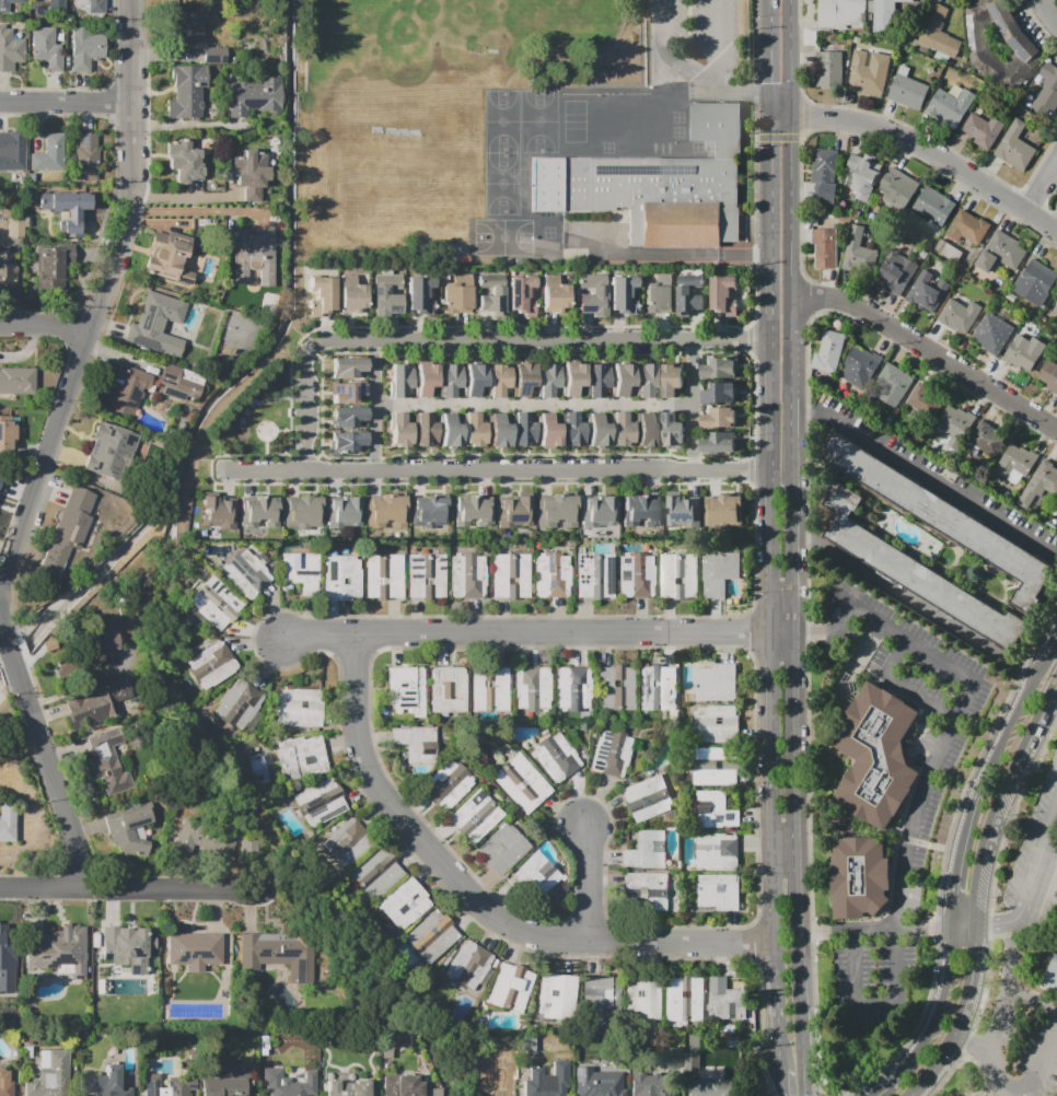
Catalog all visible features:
building: (56, 3)
building: (95, 7)
building: (3, 8)
road: (1047, 13)
building: (840, 14)
building: (882, 16)
building: (189, 28)
park: (572, 31)
building: (937, 31)
building: (1011, 32)
park: (403, 38)
parking lot: (699, 38)
building: (986, 47)
building: (8, 48)
building: (45, 48)
building: (85, 48)
road: (770, 48)
building: (214, 54)
road: (790, 58)
building: (827, 68)
building: (868, 73)
traffic signals: (770, 82)
road: (702, 86)
road: (96, 88)
building: (1047, 90)
building: (907, 91)
building: (186, 92)
road: (740, 95)
road: (68, 97)
building: (253, 97)
road: (769, 106)
road: (116, 107)
building: (945, 108)
traffic signals: (809, 116)
road: (780, 117)
road: (755, 123)
road: (187, 124)
building: (984, 130)
traffic signals: (791, 142)
building: (1015, 148)
road: (932, 151)
building: (13, 152)
building: (48, 153)
building: (86, 158)
road: (116, 160)
building: (188, 161)
building: (823, 164)
building: (249, 174)
building: (860, 174)
building: (898, 185)
road: (1042, 185)
building: (654, 186)
road: (185, 196)
building: (933, 205)
road: (791, 207)
building: (65, 209)
building: (14, 228)
road: (769, 228)
building: (966, 228)
building: (823, 248)
building: (948, 250)
building: (999, 252)
building: (856, 253)
building: (166, 257)
building: (253, 257)
building: (53, 265)
building: (7, 270)
building: (891, 277)
building: (1034, 282)
building: (417, 290)
building: (619, 290)
building: (927, 290)
building: (322, 292)
building: (385, 292)
building: (520, 292)
building: (722, 292)
building: (489, 293)
building: (658, 293)
road: (103, 295)
building: (591, 295)
building: (352, 296)
building: (688, 296)
building: (554, 298)
building: (455, 299)
building: (1055, 310)
building: (957, 315)
road: (47, 324)
building: (156, 325)
road: (698, 326)
road: (426, 327)
building: (992, 331)
road: (538, 339)
road: (697, 351)
building: (829, 351)
road: (927, 351)
road: (530, 354)
building: (1020, 354)
building: (346, 365)
building: (859, 365)
building: (718, 366)
building: (1047, 375)
building: (522, 376)
building: (620, 376)
building: (399, 377)
building: (423, 377)
building: (473, 377)
building: (547, 377)
building: (571, 377)
building: (449, 378)
building: (498, 378)
building: (646, 378)
building: (670, 378)
building: (894, 378)
building: (16, 380)
building: (595, 380)
building: (181, 381)
building: (127, 388)
building: (345, 390)
building: (719, 393)
building: (925, 398)
road: (294, 403)
road: (692, 404)
road: (374, 406)
road: (533, 406)
road: (304, 410)
building: (346, 415)
building: (718, 417)
building: (955, 419)
building: (670, 428)
building: (399, 429)
building: (422, 429)
building: (620, 429)
building: (644, 429)
building: (473, 430)
building: (571, 430)
road: (289, 431)
building: (449, 431)
building: (496, 431)
building: (521, 431)
building: (546, 431)
building: (596, 432)
building: (4, 435)
building: (987, 439)
building: (350, 441)
building: (719, 442)
road: (284, 447)
road: (268, 448)
building: (109, 451)
road: (473, 455)
road: (256, 456)
building: (1015, 463)
road: (792, 464)
road: (920, 468)
road: (499, 470)
road: (226, 482)
road: (724, 482)
road: (367, 483)
road: (548, 483)
building: (1038, 483)
road: (773, 485)
building: (728, 511)
building: (640, 512)
building: (683, 512)
building: (514, 513)
building: (556, 513)
building: (600, 513)
building: (1056, 513)
building: (386, 514)
building: (471, 514)
building: (258, 515)
building: (302, 515)
building: (429, 515)
building: (344, 516)
building: (212, 517)
building: (943, 517)
building: (67, 528)
building: (299, 570)
building: (245, 572)
building: (916, 572)
building: (636, 574)
building: (717, 574)
building: (426, 575)
building: (466, 575)
building: (509, 575)
building: (551, 575)
building: (593, 575)
building: (678, 575)
building: (383, 576)
building: (341, 578)
road: (915, 602)
building: (213, 604)
road: (783, 632)
building: (108, 633)
road: (527, 633)
road: (833, 633)
building: (49, 644)
road: (857, 656)
building: (209, 665)
building: (62, 668)
building: (716, 681)
road: (903, 685)
road: (82, 686)
building: (615, 686)
building: (448, 688)
building: (571, 688)
building: (659, 688)
building: (405, 689)
building: (488, 689)
building: (532, 689)
building: (97, 703)
building: (237, 704)
building: (300, 706)
building: (715, 724)
road: (1007, 733)
building: (415, 747)
road: (1025, 750)
building: (712, 753)
building: (556, 754)
building: (609, 754)
road: (47, 755)
building: (875, 755)
building: (300, 758)
building: (107, 759)
building: (715, 773)
building: (520, 783)
building: (446, 784)
building: (647, 797)
building: (318, 803)
building: (715, 809)
building: (475, 815)
road: (918, 816)
building: (7, 823)
building: (128, 828)
road: (989, 831)
building: (204, 838)
building: (345, 841)
building: (247, 846)
building: (502, 848)
building: (644, 850)
building: (713, 852)
road: (788, 855)
road: (801, 863)
road: (776, 864)
road: (1036, 867)
building: (373, 871)
building: (528, 876)
building: (857, 876)
road: (950, 881)
road: (590, 884)
road: (45, 886)
building: (648, 887)
road: (977, 888)
road: (176, 889)
building: (718, 890)
road: (476, 901)
parking lot: (1018, 901)
building: (404, 905)
road: (991, 908)
road: (991, 924)
road: (888, 930)
building: (430, 936)
building: (200, 946)
building: (58, 949)
building: (127, 951)
building: (278, 954)
road: (1009, 956)
building: (7, 965)
building: (471, 968)
building: (1052, 971)
road: (973, 973)
building: (510, 988)
building: (557, 996)
road: (1007, 996)
building: (642, 998)
building: (685, 998)
building: (601, 999)
building: (725, 1000)
road: (933, 1022)
building: (393, 1041)
road: (971, 1042)
building: (673, 1057)
road: (940, 1060)
building: (690, 1061)
building: (48, 1075)
building: (546, 1081)
building: (105, 1082)
road: (1030, 1082)
building: (4, 1083)
building: (597, 1083)
building: (224, 1084)
building: (280, 1084)
building: (150, 1085)
building: (496, 1085)
building: (655, 1085)
building: (403, 1086)
building: (713, 1087)
building: (348, 1088)

